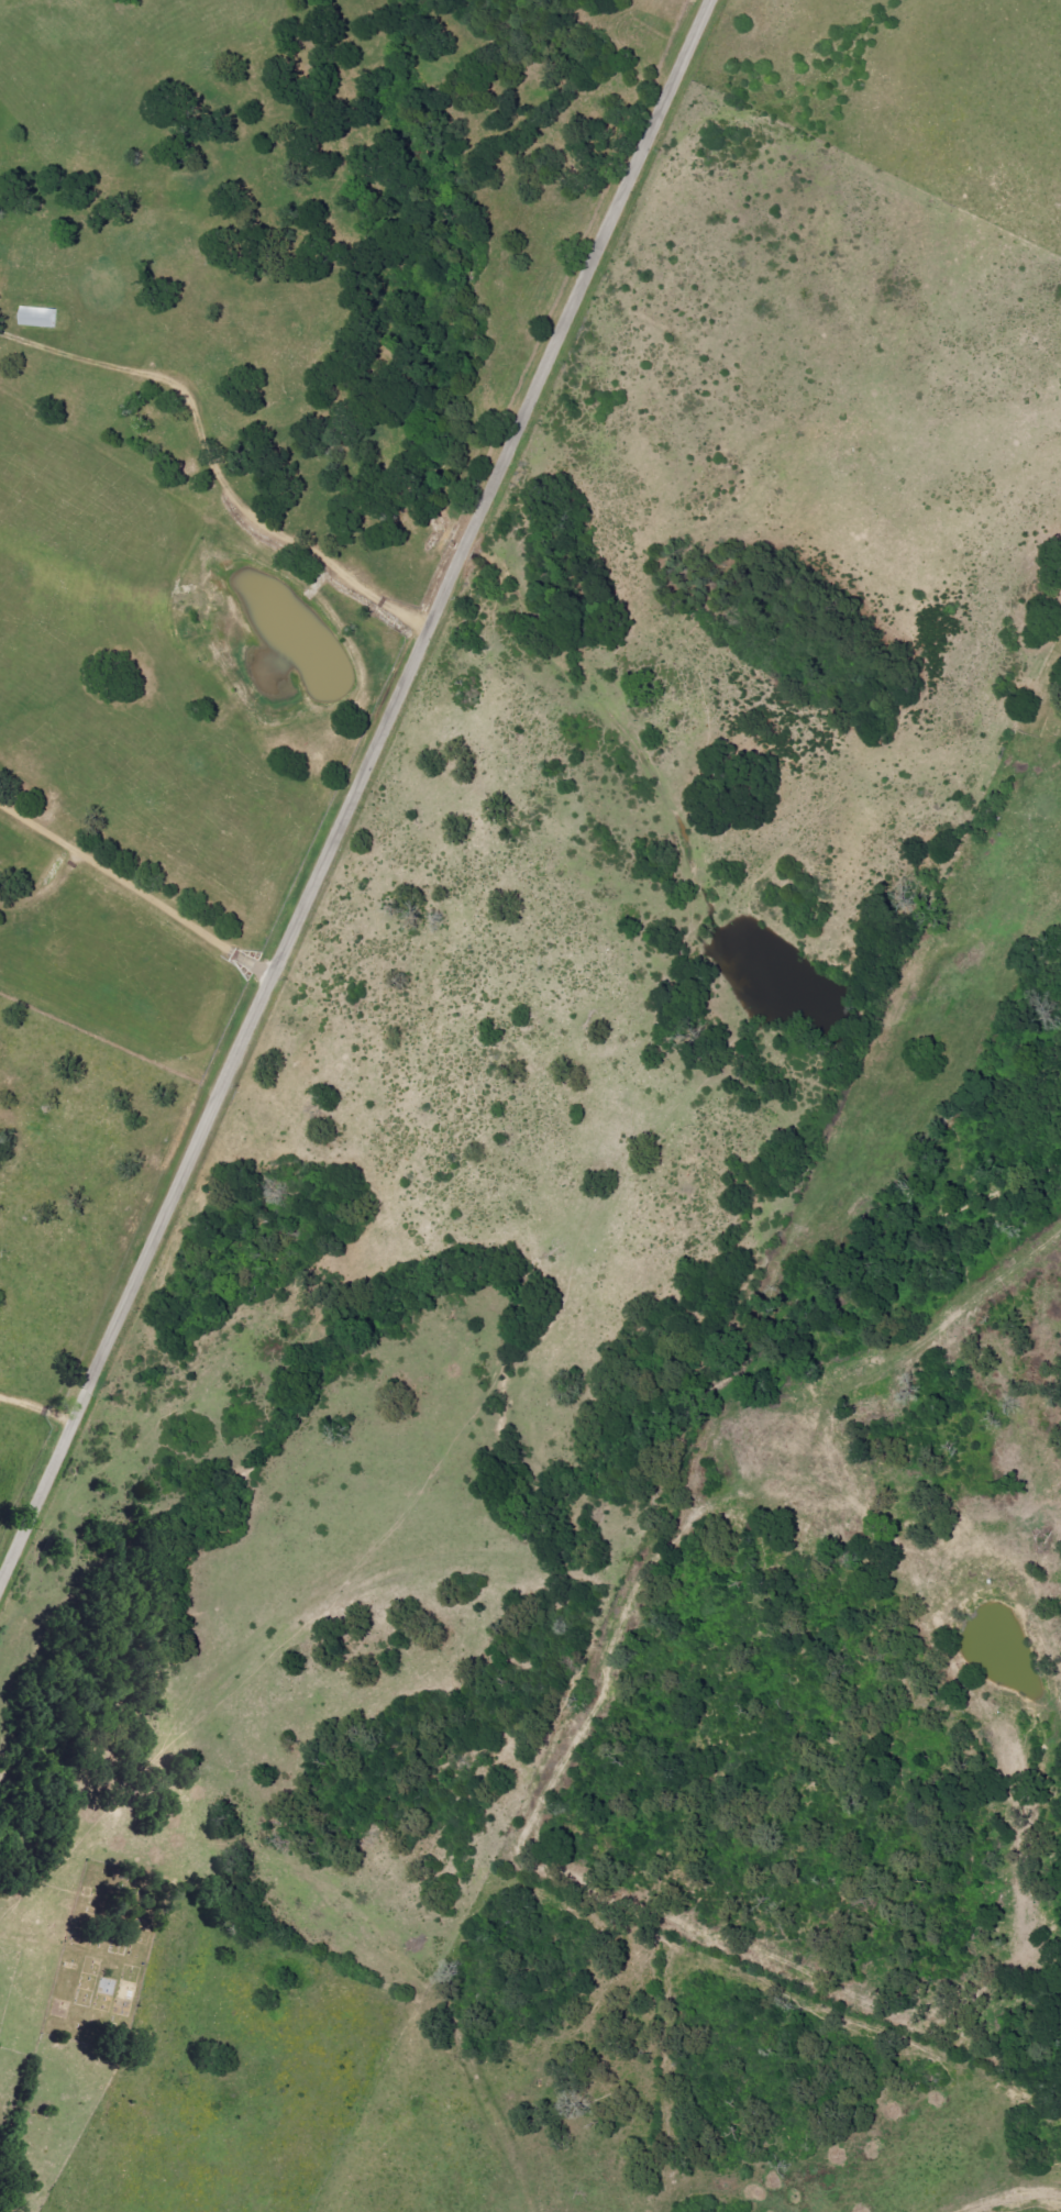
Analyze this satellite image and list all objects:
road: (213, 464)
road: (353, 789)
road: (133, 897)
road: (46, 1358)
park: (99, 1958)

